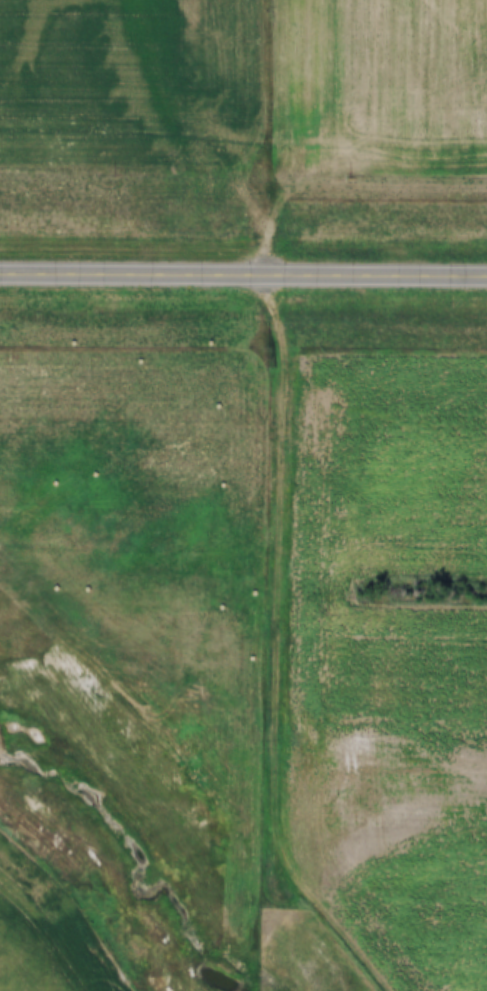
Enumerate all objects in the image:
road: (243, 274)
building: (477, 275)
road: (290, 505)

